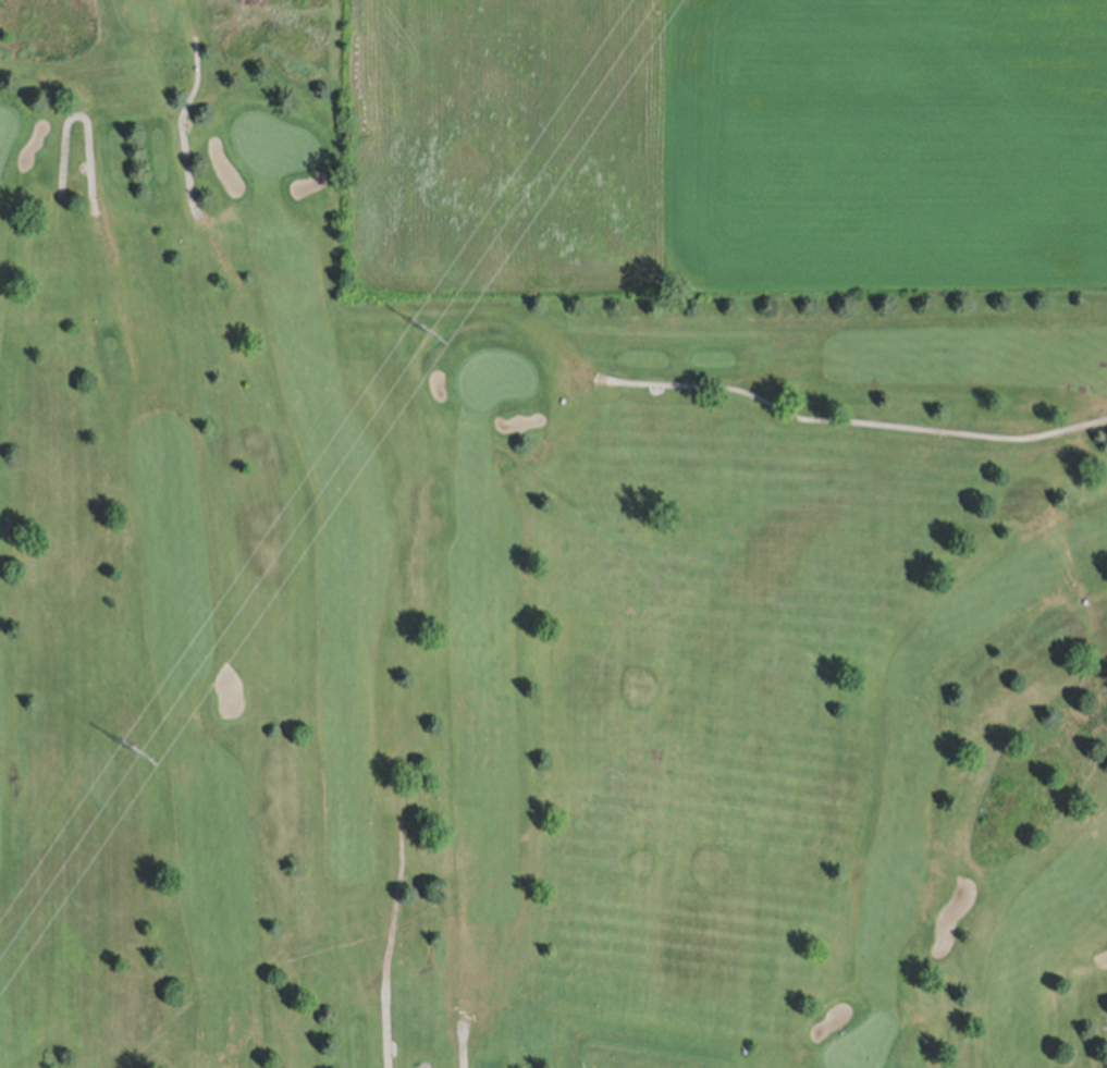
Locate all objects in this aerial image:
power tower: (430, 330)
park: (514, 625)
power tower: (143, 751)

